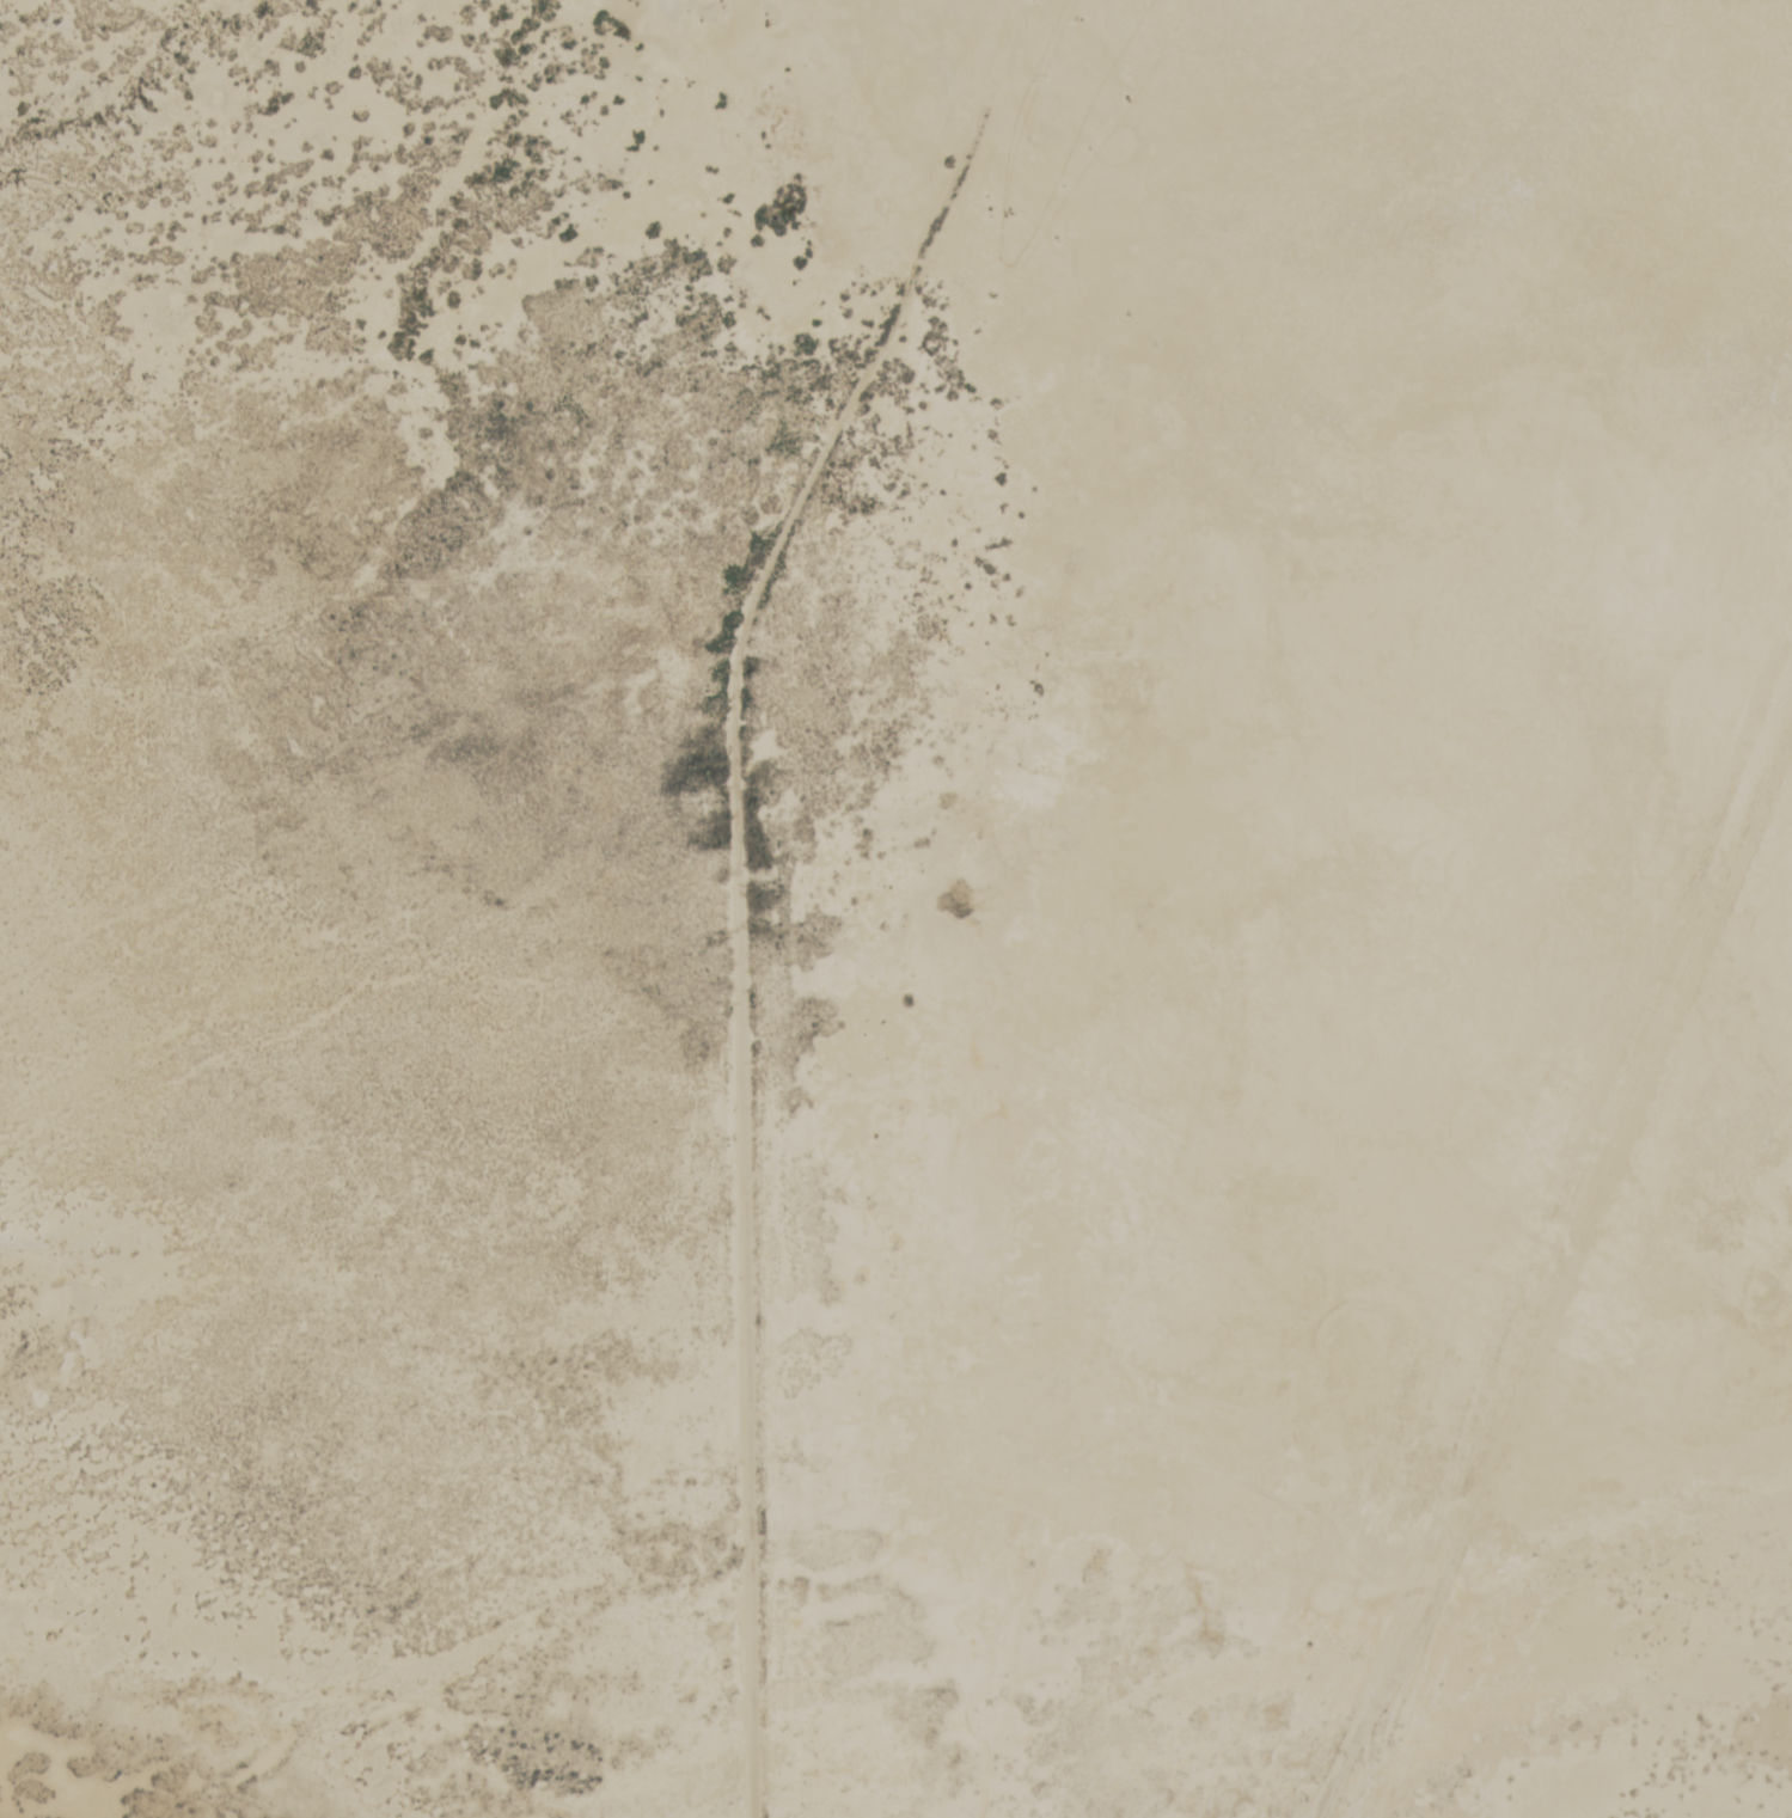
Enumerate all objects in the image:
road: (739, 892)
road: (1571, 1226)

